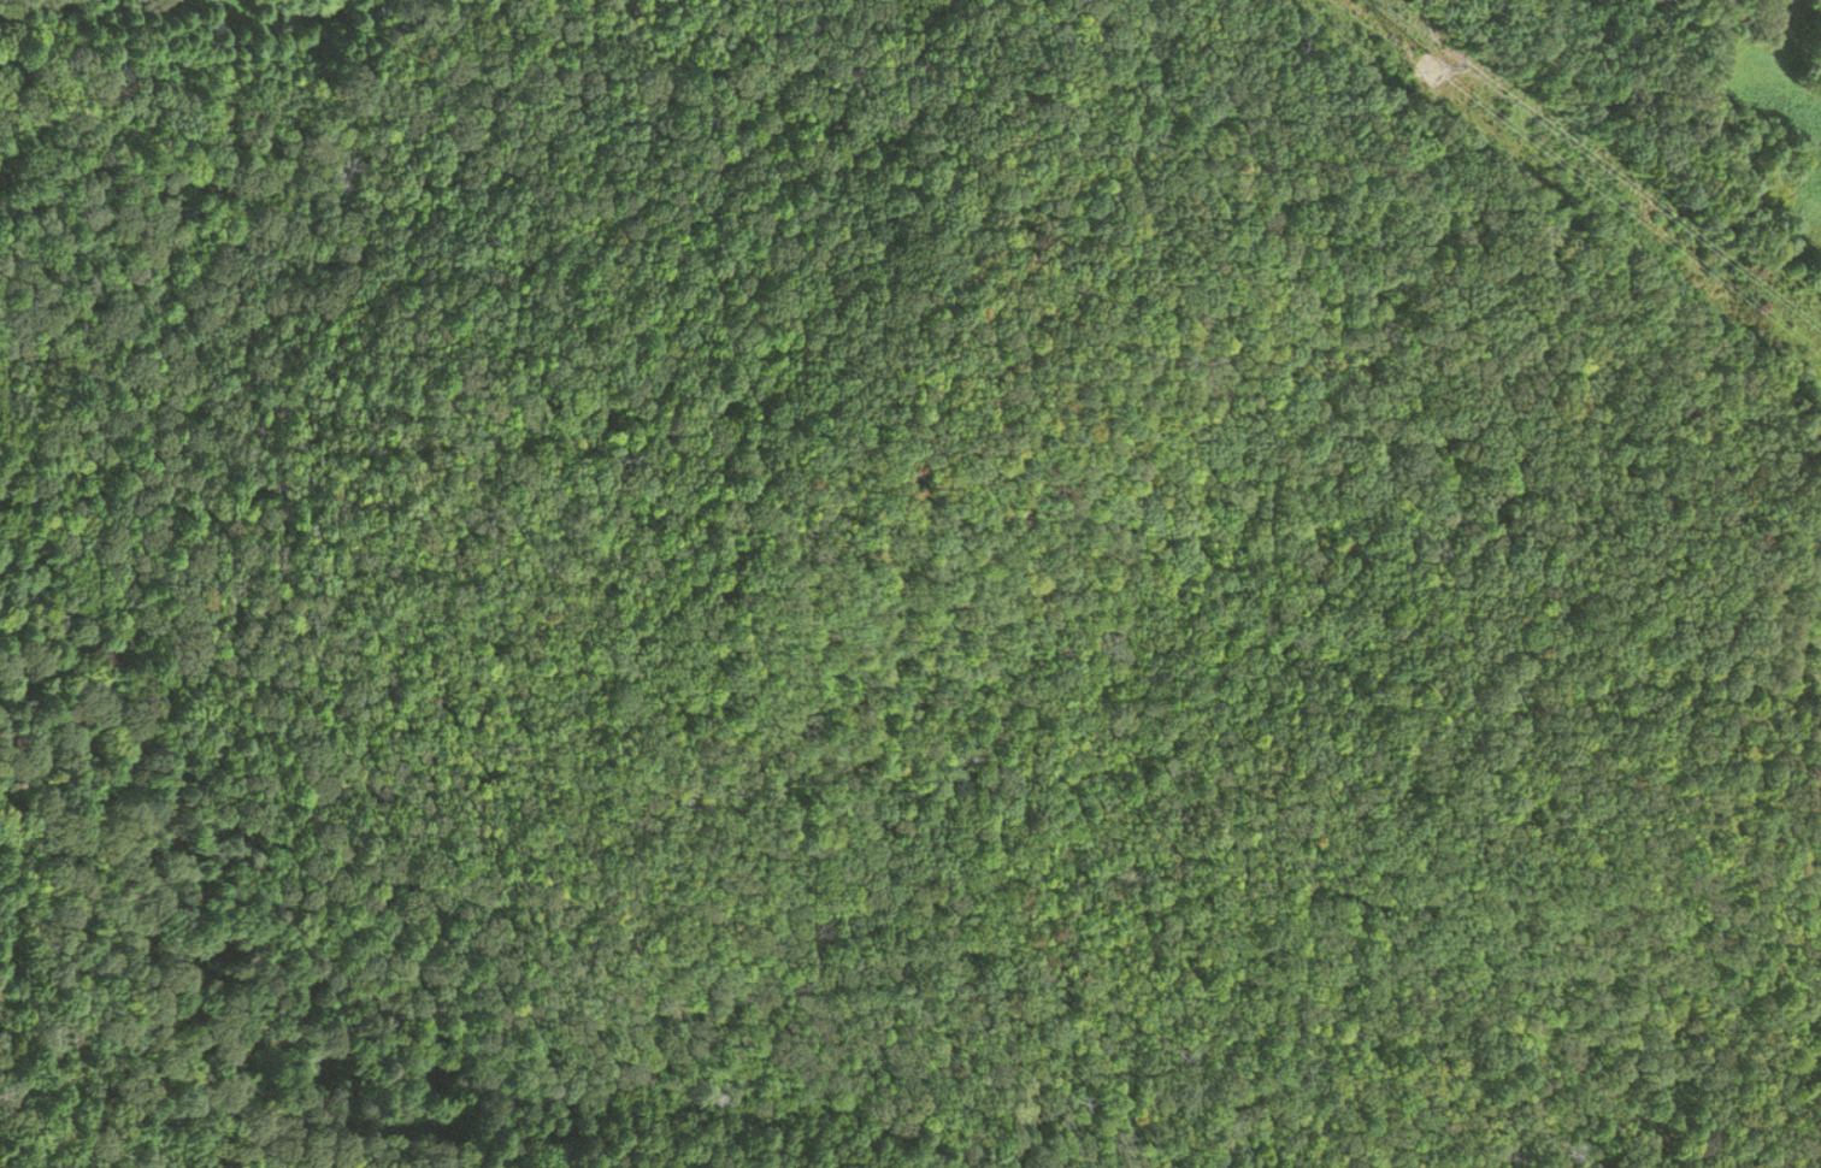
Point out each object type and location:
power tower: (1437, 66)

